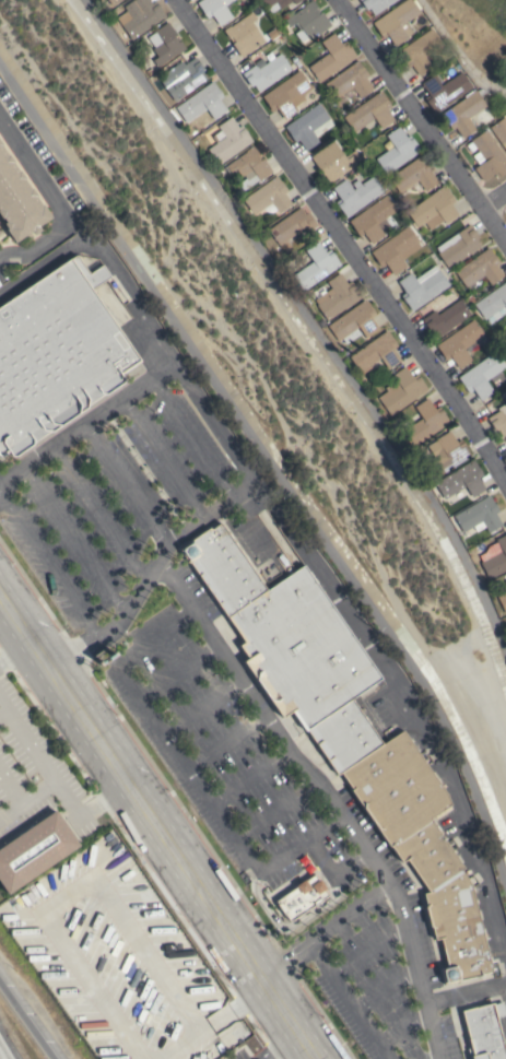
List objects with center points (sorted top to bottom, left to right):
building: (113, 1)
building: (278, 3)
building: (376, 4)
building: (215, 10)
building: (139, 16)
building: (308, 20)
building: (398, 21)
building: (244, 35)
building: (165, 44)
building: (420, 50)
building: (331, 58)
building: (266, 72)
building: (181, 78)
building: (350, 81)
building: (445, 90)
building: (287, 94)
building: (202, 104)
building: (370, 113)
building: (463, 113)
road: (422, 119)
building: (307, 126)
building: (499, 130)
building: (230, 140)
building: (0, 142)
building: (398, 150)
building: (487, 155)
building: (333, 161)
building: (248, 167)
building: (414, 174)
building: (356, 193)
building: (268, 197)
building: (19, 201)
road: (52, 201)
road: (495, 202)
building: (434, 209)
building: (374, 219)
building: (291, 227)
building: (0, 231)
road: (343, 239)
building: (458, 246)
building: (396, 249)
building: (317, 264)
road: (46, 268)
building: (479, 270)
building: (422, 286)
building: (336, 296)
building: (492, 303)
building: (445, 317)
building: (353, 322)
building: (459, 343)
building: (505, 345)
building: (376, 351)
building: (56, 353)
building: (483, 375)
building: (400, 390)
building: (505, 407)
building: (424, 422)
building: (498, 422)
road: (86, 424)
building: (444, 454)
building: (461, 480)
parking lot: (113, 505)
building: (479, 515)
building: (496, 560)
building: (222, 568)
road: (151, 573)
building: (505, 581)
road: (331, 595)
building: (502, 601)
road: (16, 652)
building: (308, 664)
road: (178, 671)
road: (202, 706)
road: (226, 741)
parking lot: (25, 748)
parking lot: (222, 755)
road: (189, 770)
road: (251, 777)
road: (54, 778)
road: (327, 798)
road: (275, 810)
road: (157, 826)
building: (421, 848)
building: (48, 855)
road: (330, 874)
building: (302, 897)
road: (350, 909)
road: (289, 926)
road: (366, 948)
road: (284, 955)
parking lot: (362, 975)
road: (384, 987)
road: (467, 995)
road: (345, 999)
road: (26, 1021)
road: (401, 1026)
building: (483, 1031)
road: (283, 1048)

